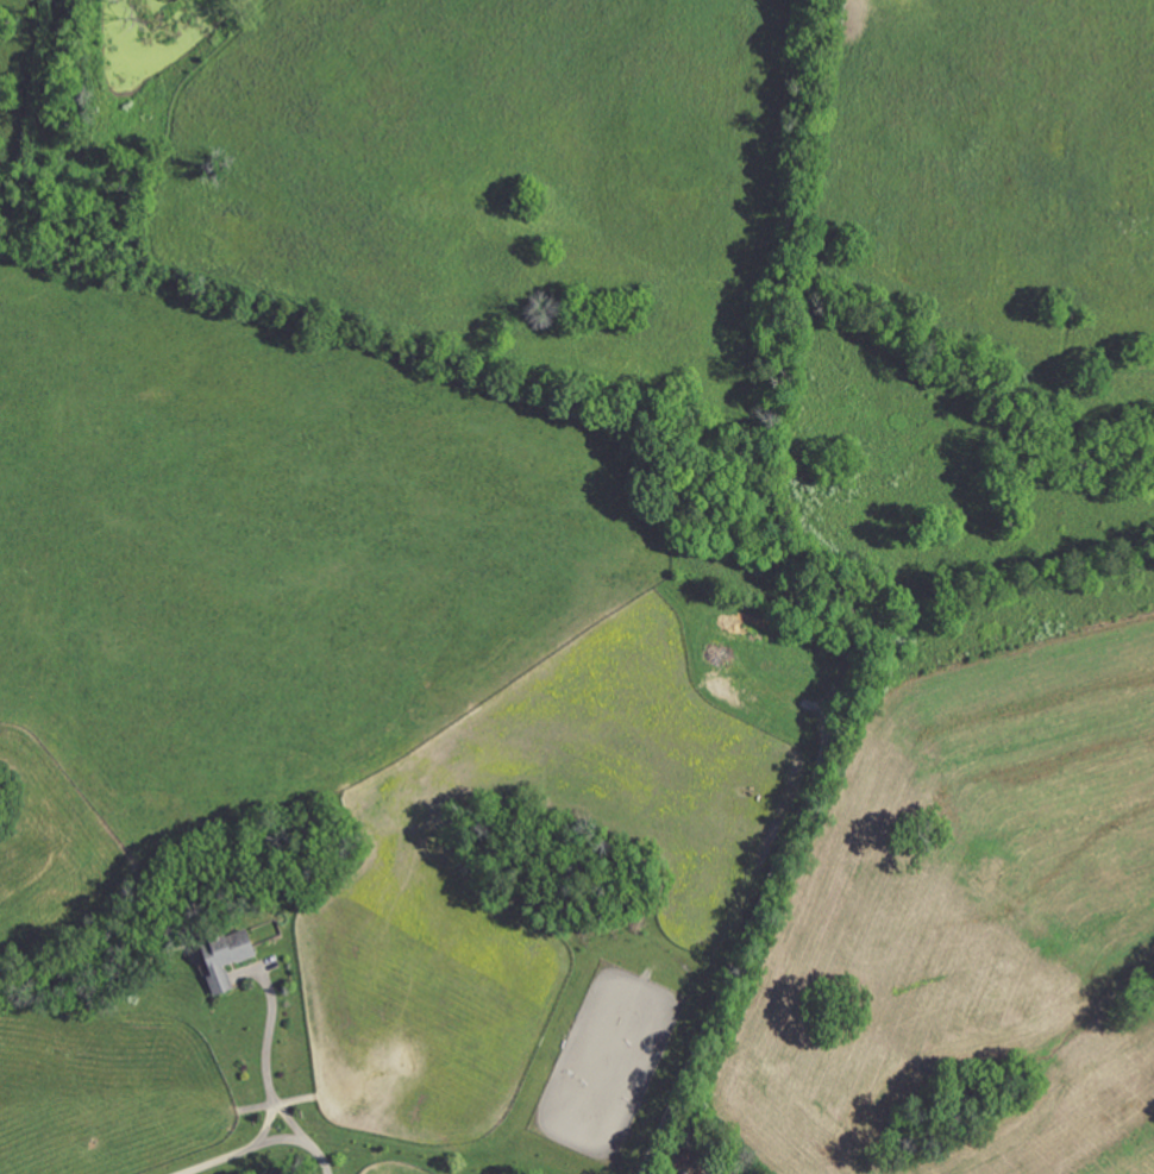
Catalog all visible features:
building: (231, 958)
road: (268, 1060)
road: (265, 1143)
building: (683, 1173)
building: (708, 1173)

